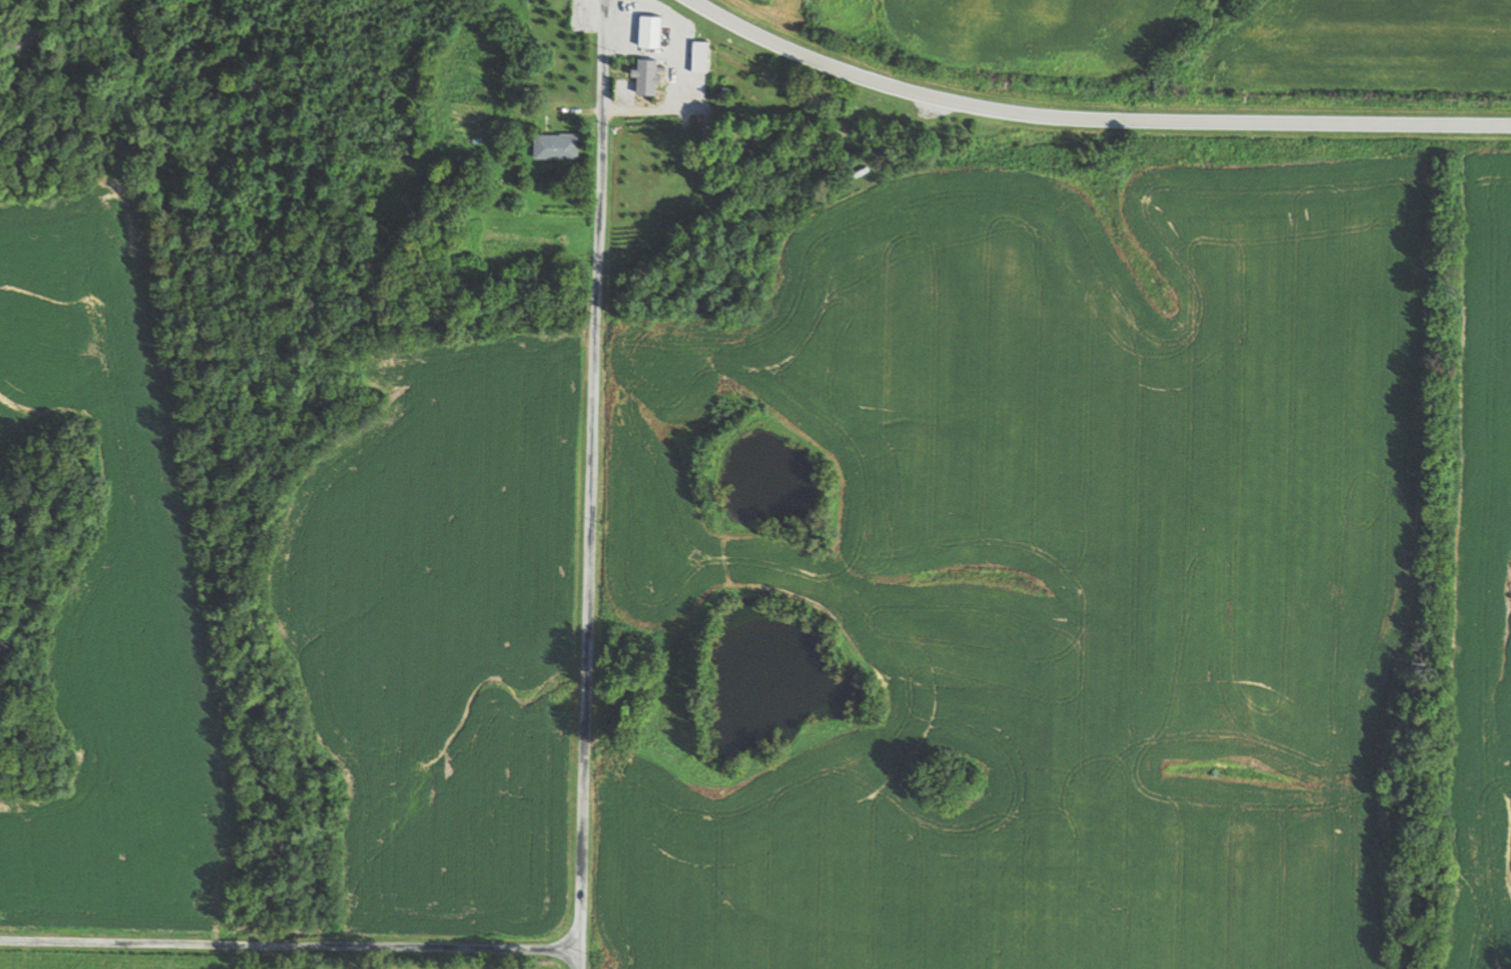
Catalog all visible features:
building: (656, 31)
building: (704, 57)
building: (653, 76)
road: (774, 104)
road: (1092, 118)
building: (561, 146)
road: (592, 484)
road: (291, 942)

